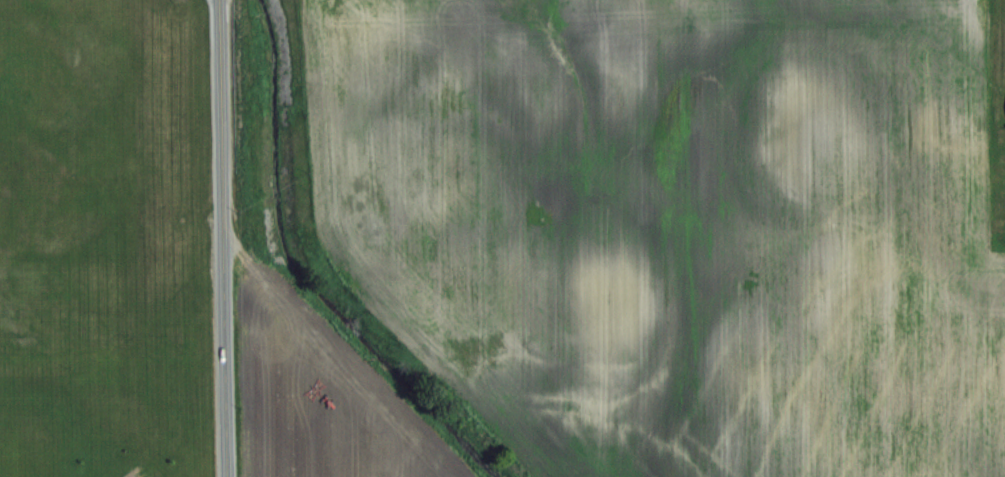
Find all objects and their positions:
road: (222, 238)

